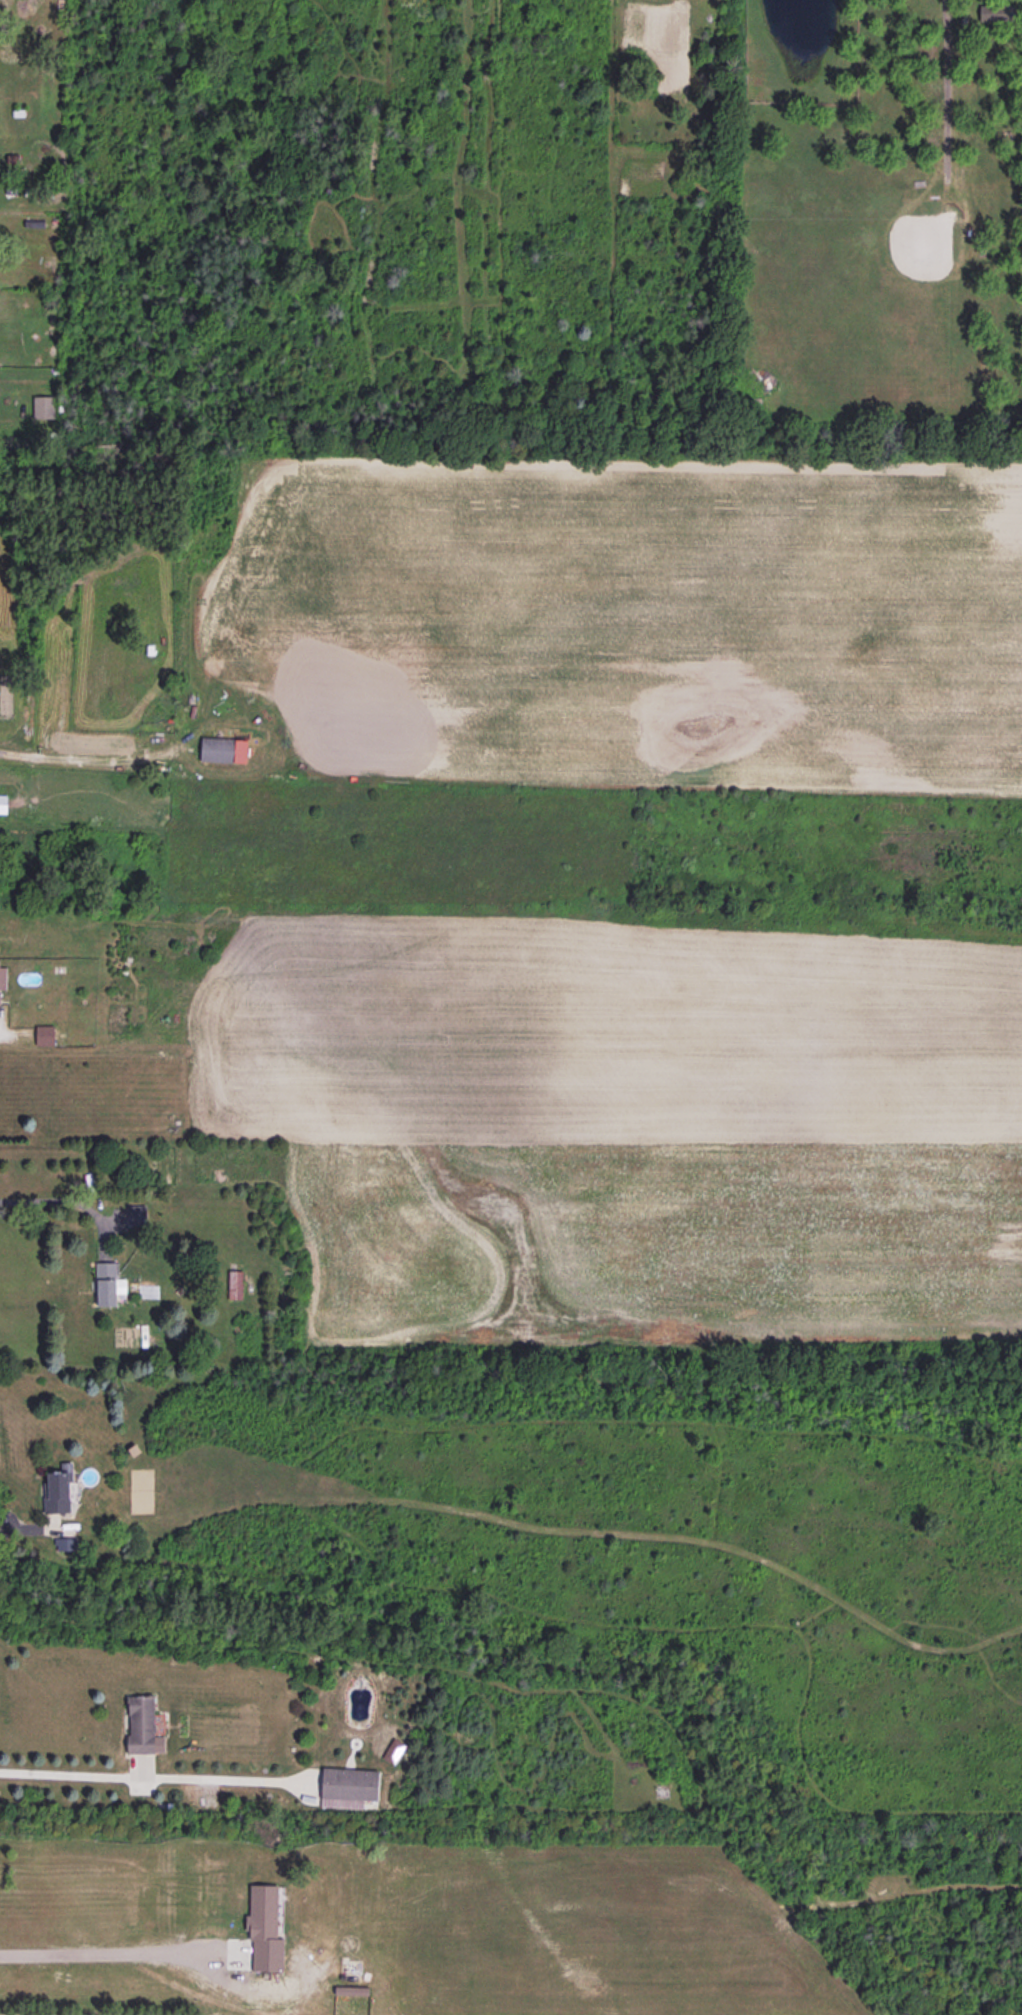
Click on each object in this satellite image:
building: (996, 12)
road: (945, 73)
building: (223, 749)
building: (3, 977)
road: (4, 1042)
road: (61, 1197)
building: (108, 1284)
building: (235, 1284)
road: (9, 1531)
building: (393, 1750)
road: (147, 1777)
building: (349, 1787)
building: (265, 1927)
road: (96, 1952)

